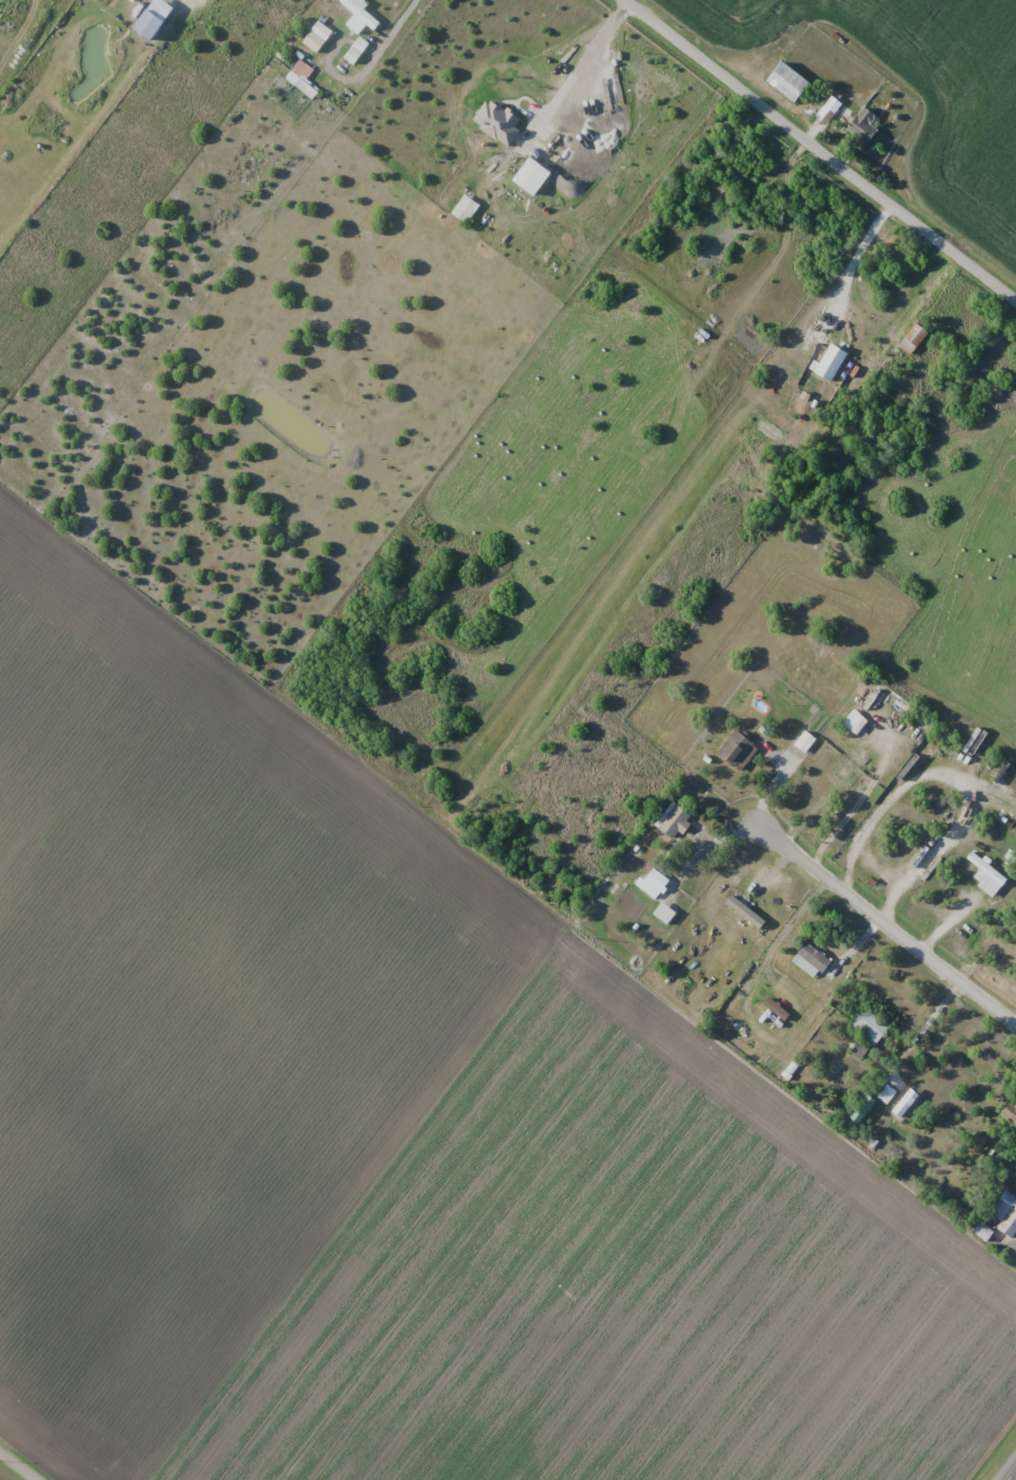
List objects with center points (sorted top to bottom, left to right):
building: (360, 13)
building: (321, 31)
building: (788, 81)
building: (301, 85)
building: (497, 121)
building: (863, 128)
road: (818, 151)
building: (532, 176)
building: (465, 209)
building: (913, 338)
building: (737, 750)
building: (675, 821)
building: (985, 870)
building: (656, 880)
road: (883, 926)
building: (811, 960)
road: (927, 1020)
building: (869, 1026)
building: (1004, 1213)
road: (16, 1467)
road: (1014, 1478)

